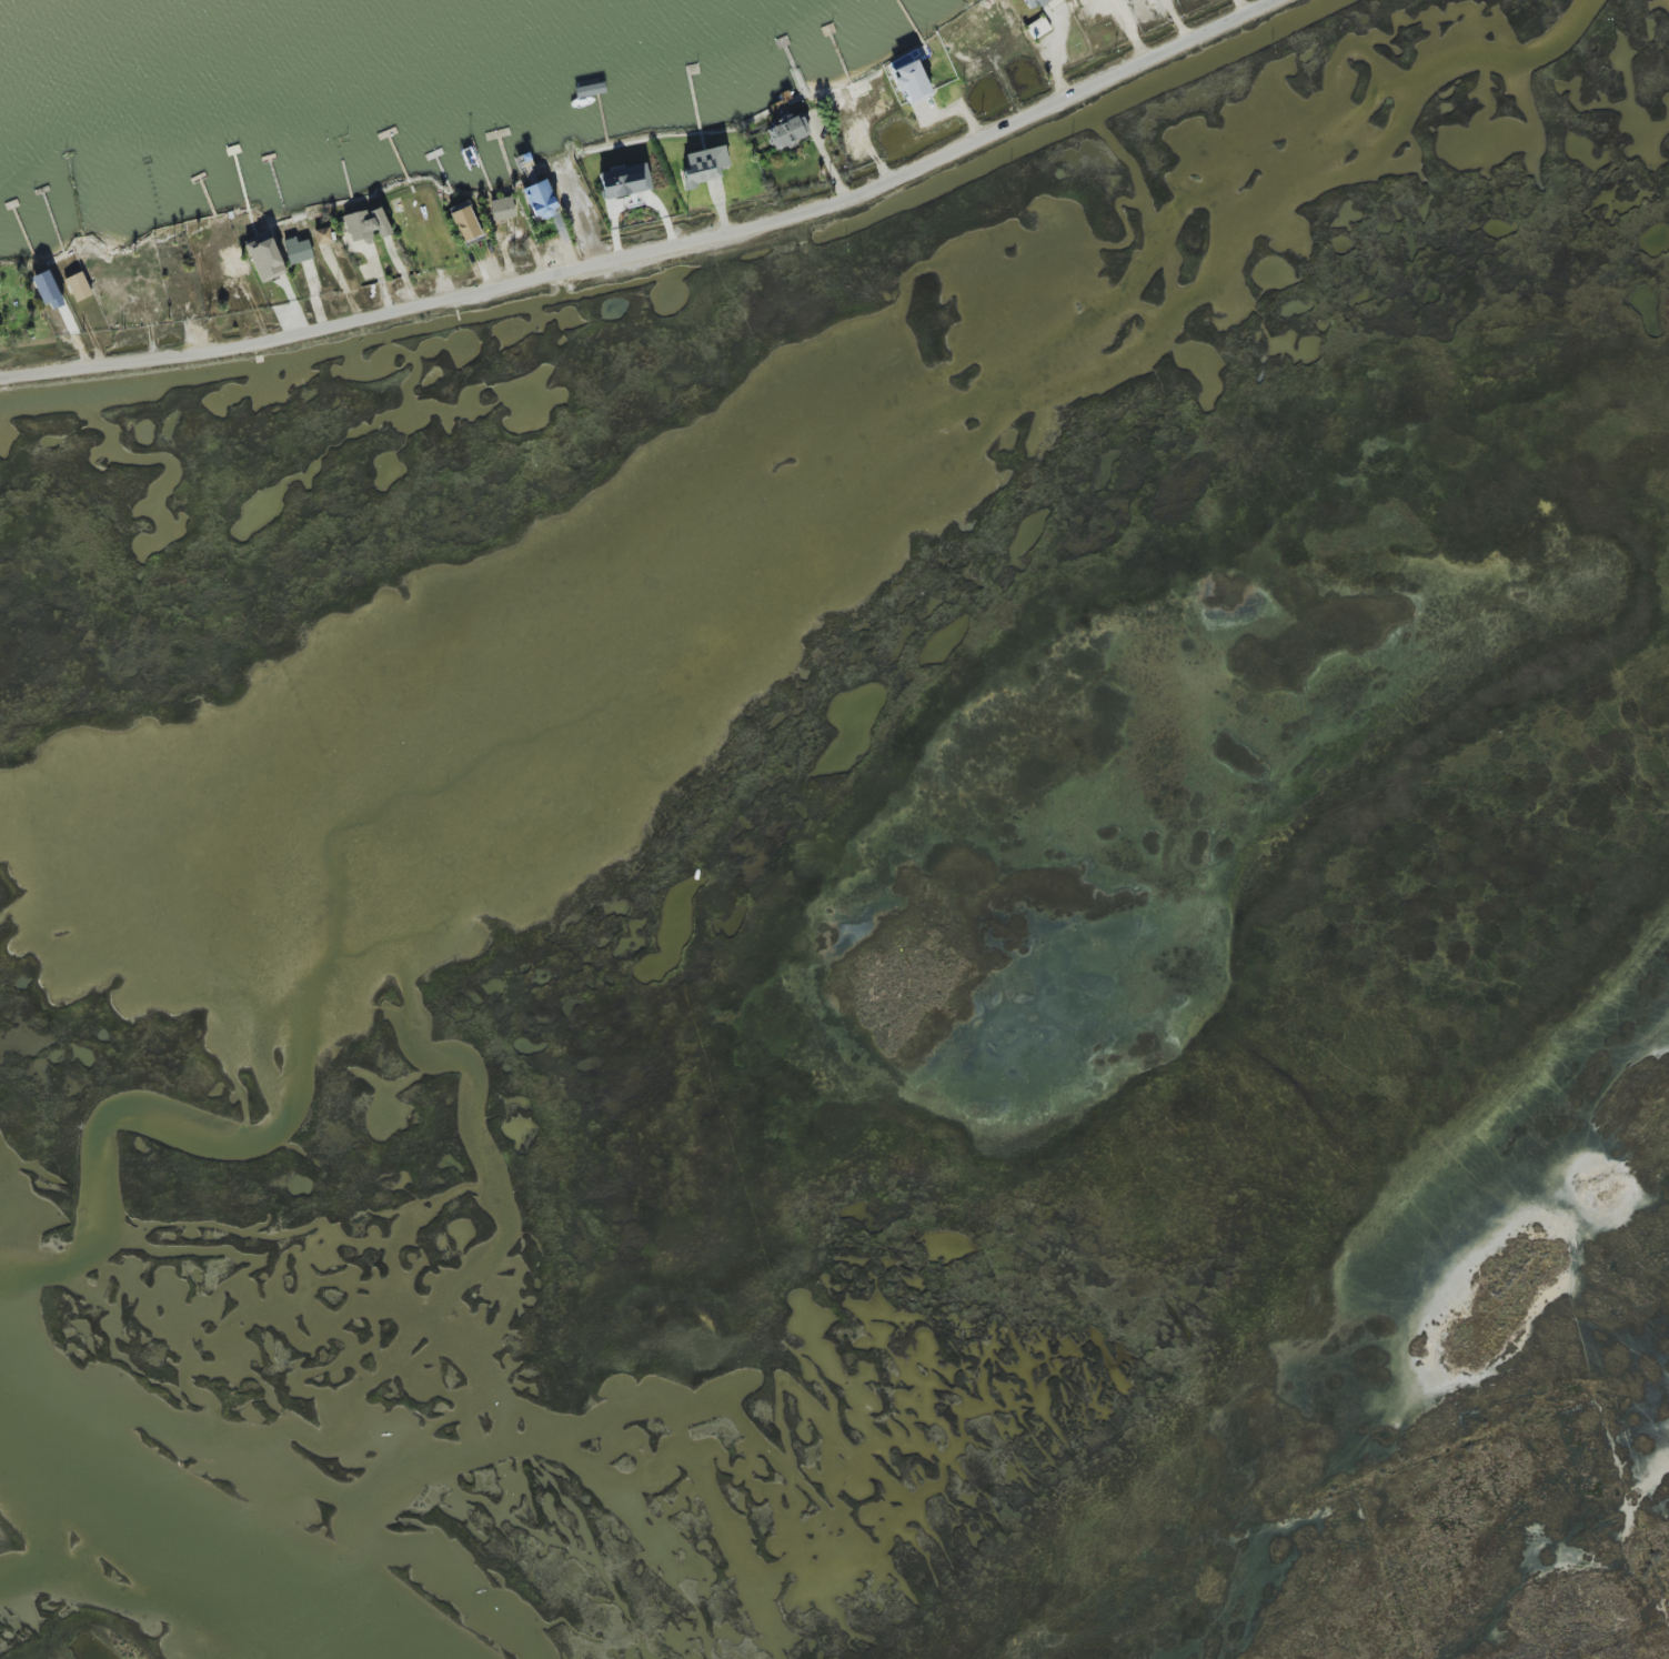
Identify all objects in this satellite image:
building: (1034, 3)
building: (1038, 27)
building: (911, 81)
building: (787, 129)
building: (704, 165)
building: (624, 180)
building: (540, 200)
building: (503, 209)
building: (465, 222)
building: (368, 224)
building: (323, 235)
building: (298, 250)
road: (657, 251)
building: (264, 258)
building: (77, 286)
building: (49, 290)

